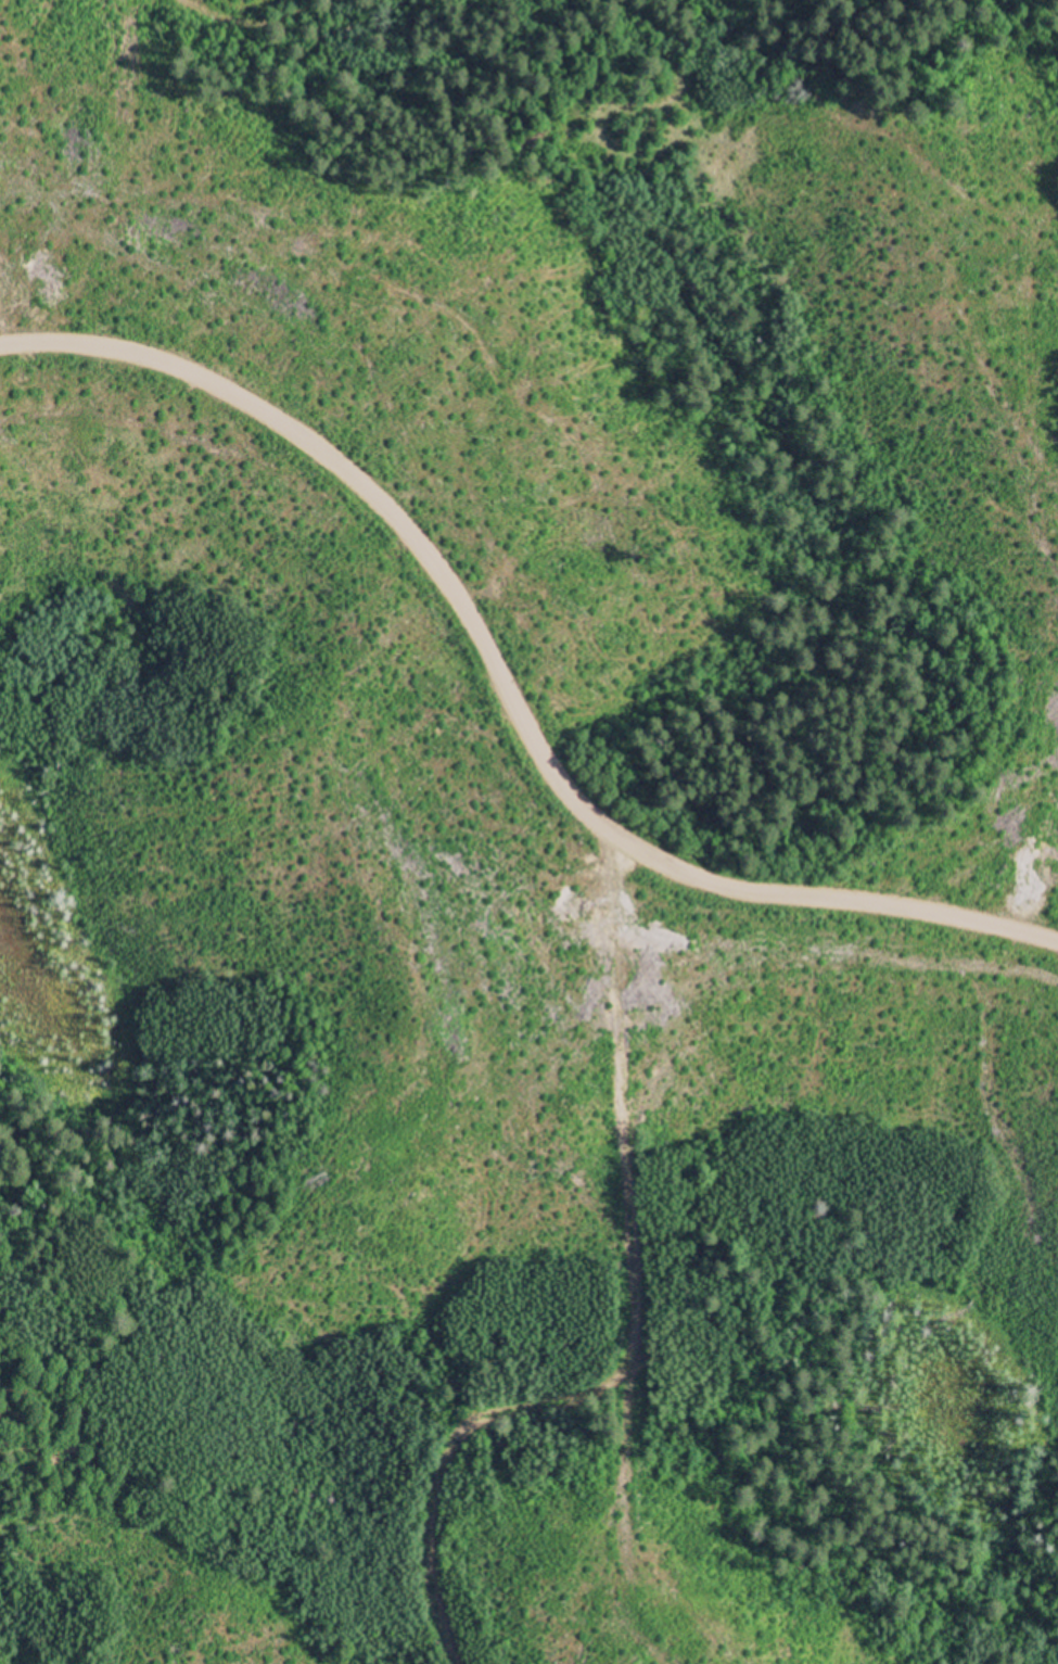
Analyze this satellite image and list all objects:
road: (505, 683)
road: (634, 1308)

